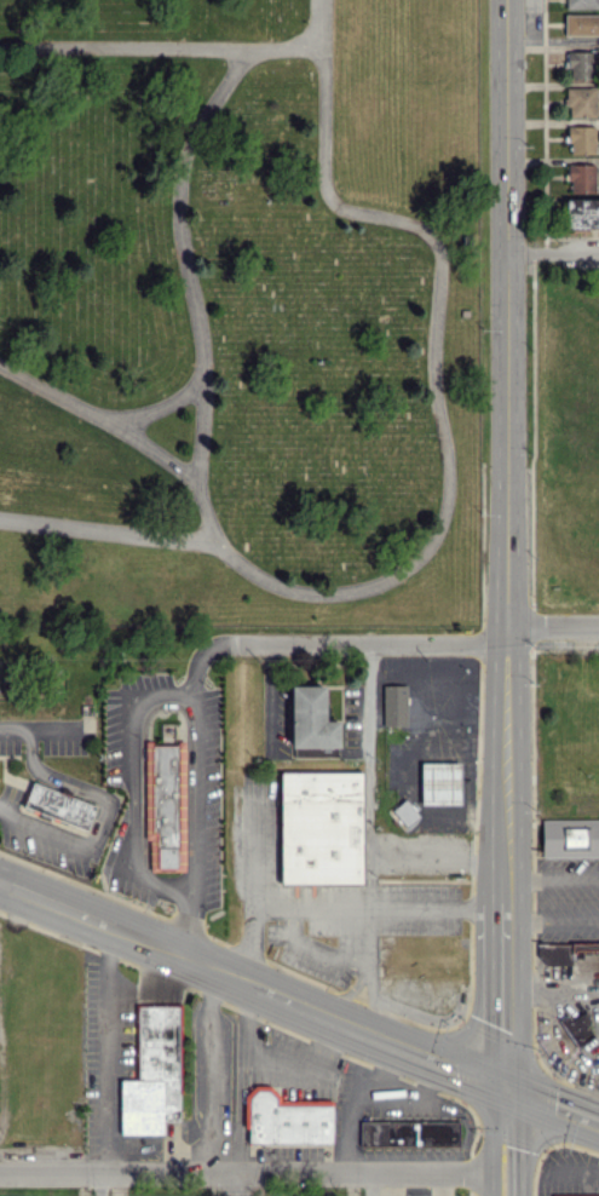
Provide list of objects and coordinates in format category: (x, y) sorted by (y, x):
building: (582, 4)
building: (581, 24)
road: (161, 50)
building: (581, 65)
building: (581, 102)
building: (581, 139)
building: (581, 177)
building: (582, 213)
road: (554, 252)
road: (188, 266)
park: (236, 312)
road: (165, 407)
road: (508, 421)
road: (449, 504)
road: (111, 534)
road: (572, 627)
road: (511, 634)
road: (349, 643)
road: (195, 661)
road: (267, 691)
road: (144, 692)
building: (394, 705)
building: (311, 718)
road: (15, 729)
road: (56, 729)
building: (440, 782)
building: (165, 800)
building: (59, 805)
road: (367, 806)
road: (104, 813)
building: (405, 813)
building: (321, 827)
building: (570, 836)
road: (436, 844)
road: (257, 850)
road: (506, 876)
road: (552, 879)
road: (53, 902)
road: (276, 905)
road: (437, 909)
road: (506, 916)
road: (180, 921)
road: (552, 922)
road: (166, 948)
building: (561, 951)
road: (346, 991)
road: (367, 1000)
road: (505, 1005)
road: (364, 1027)
building: (578, 1028)
road: (108, 1033)
road: (266, 1062)
road: (209, 1068)
building: (152, 1071)
traffic signals: (503, 1086)
road: (551, 1105)
building: (286, 1119)
building: (409, 1133)
road: (503, 1140)
road: (252, 1171)
road: (372, 1183)
road: (391, 1183)
road: (438, 1183)
road: (100, 1184)
road: (234, 1184)
building: (558, 1195)

